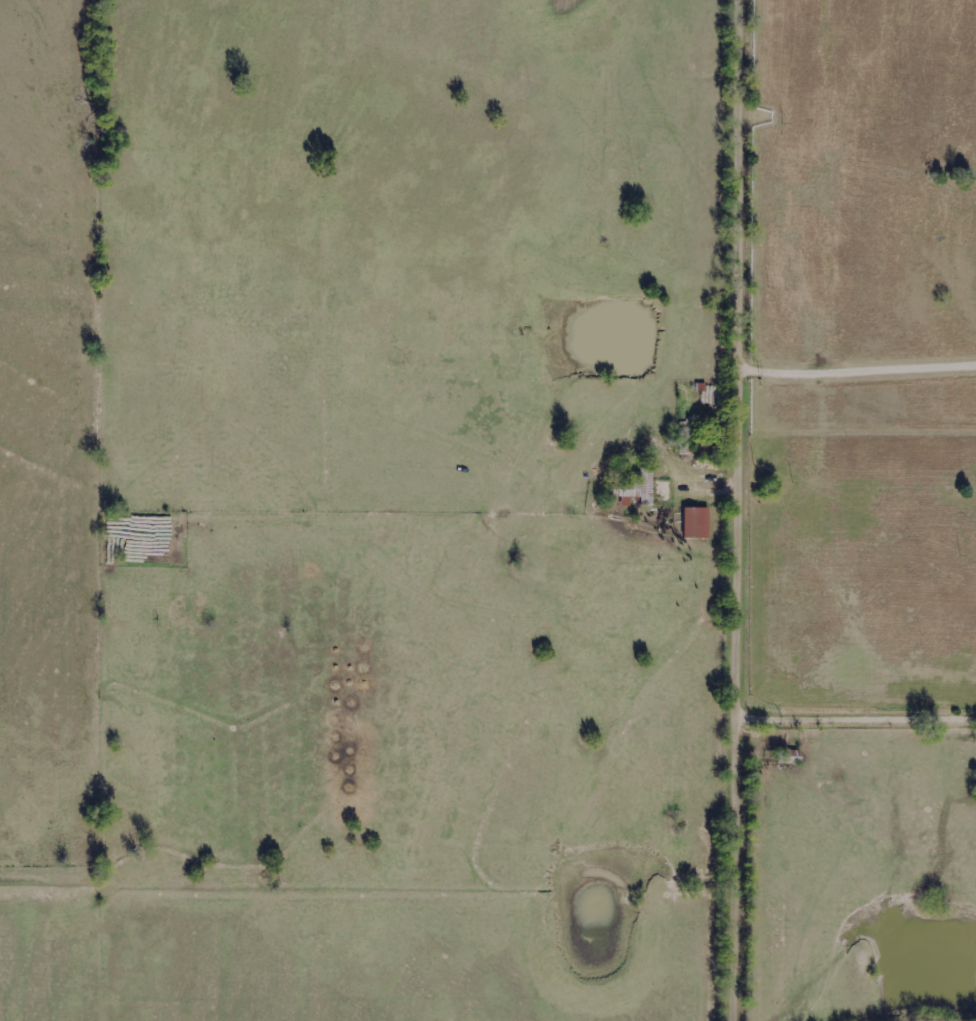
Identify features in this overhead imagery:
road: (742, 510)
building: (697, 523)
road: (858, 719)

